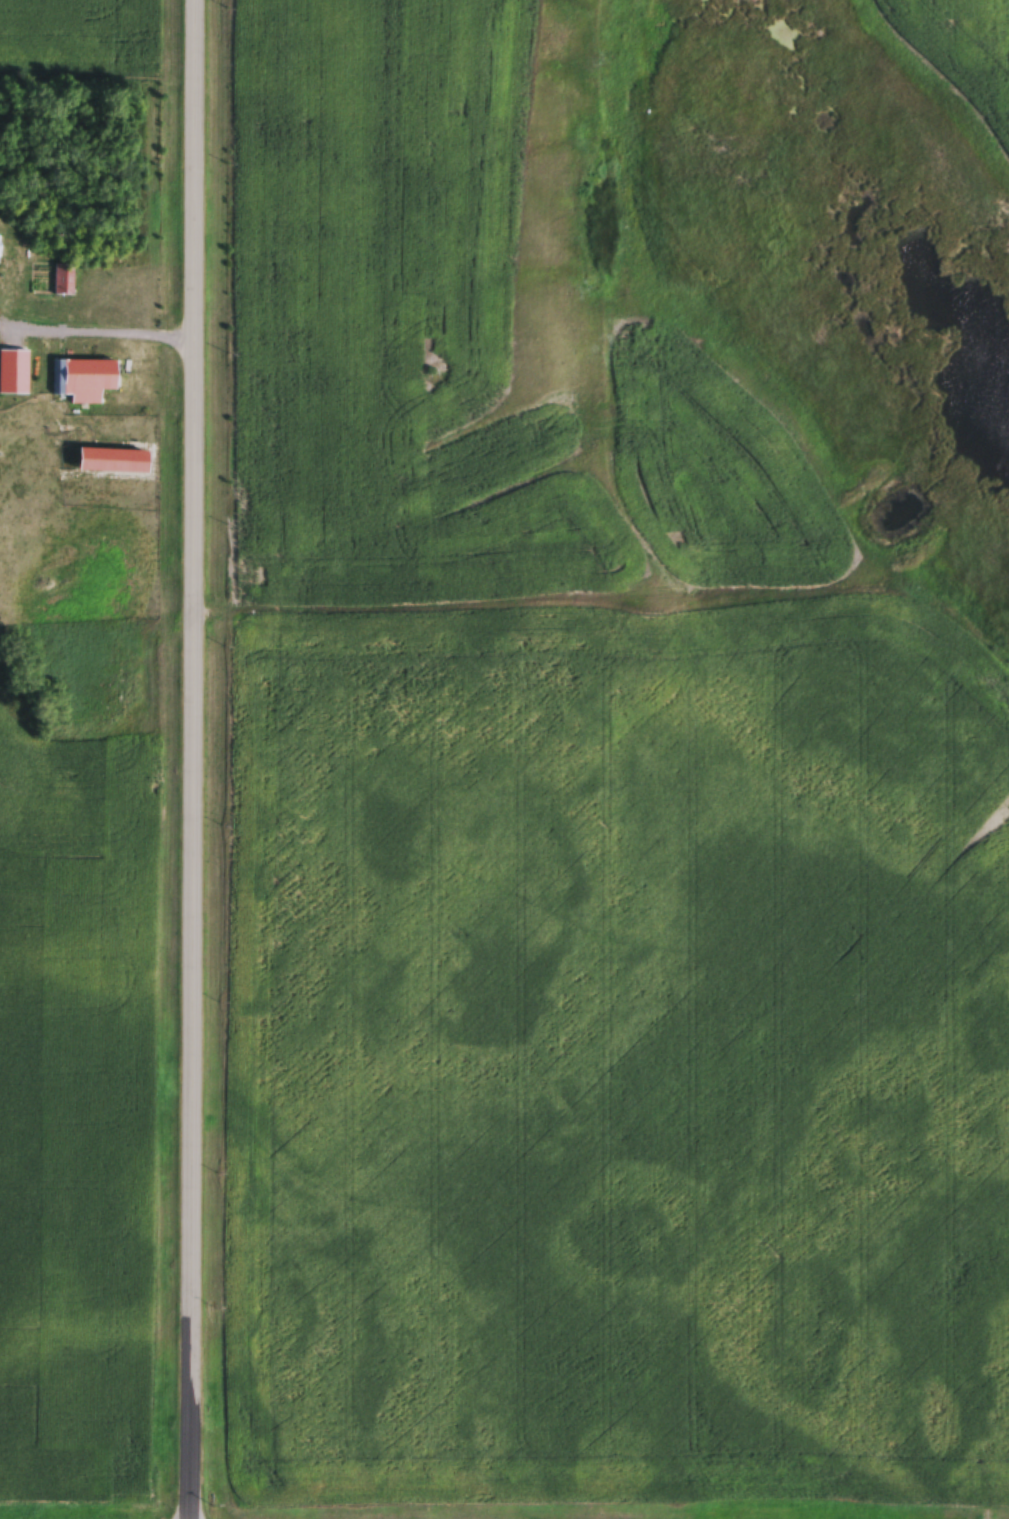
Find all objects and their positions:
building: (63, 281)
road: (97, 323)
building: (13, 374)
building: (82, 382)
building: (116, 463)
road: (192, 759)

